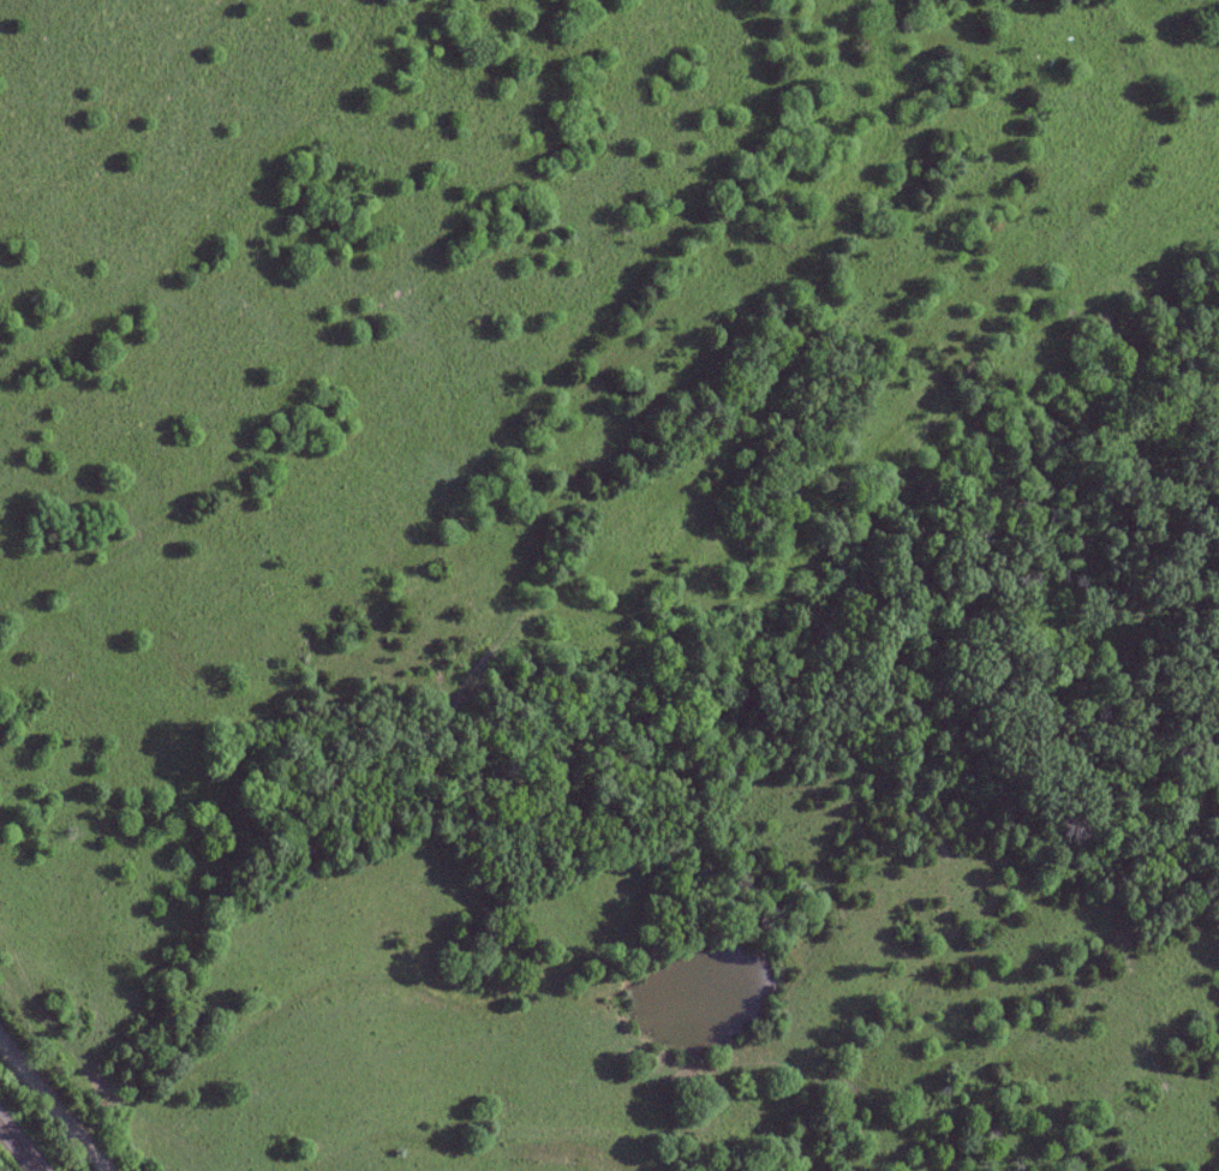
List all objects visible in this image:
road: (53, 1106)
railway: (18, 1148)
crop: (4, 1165)

